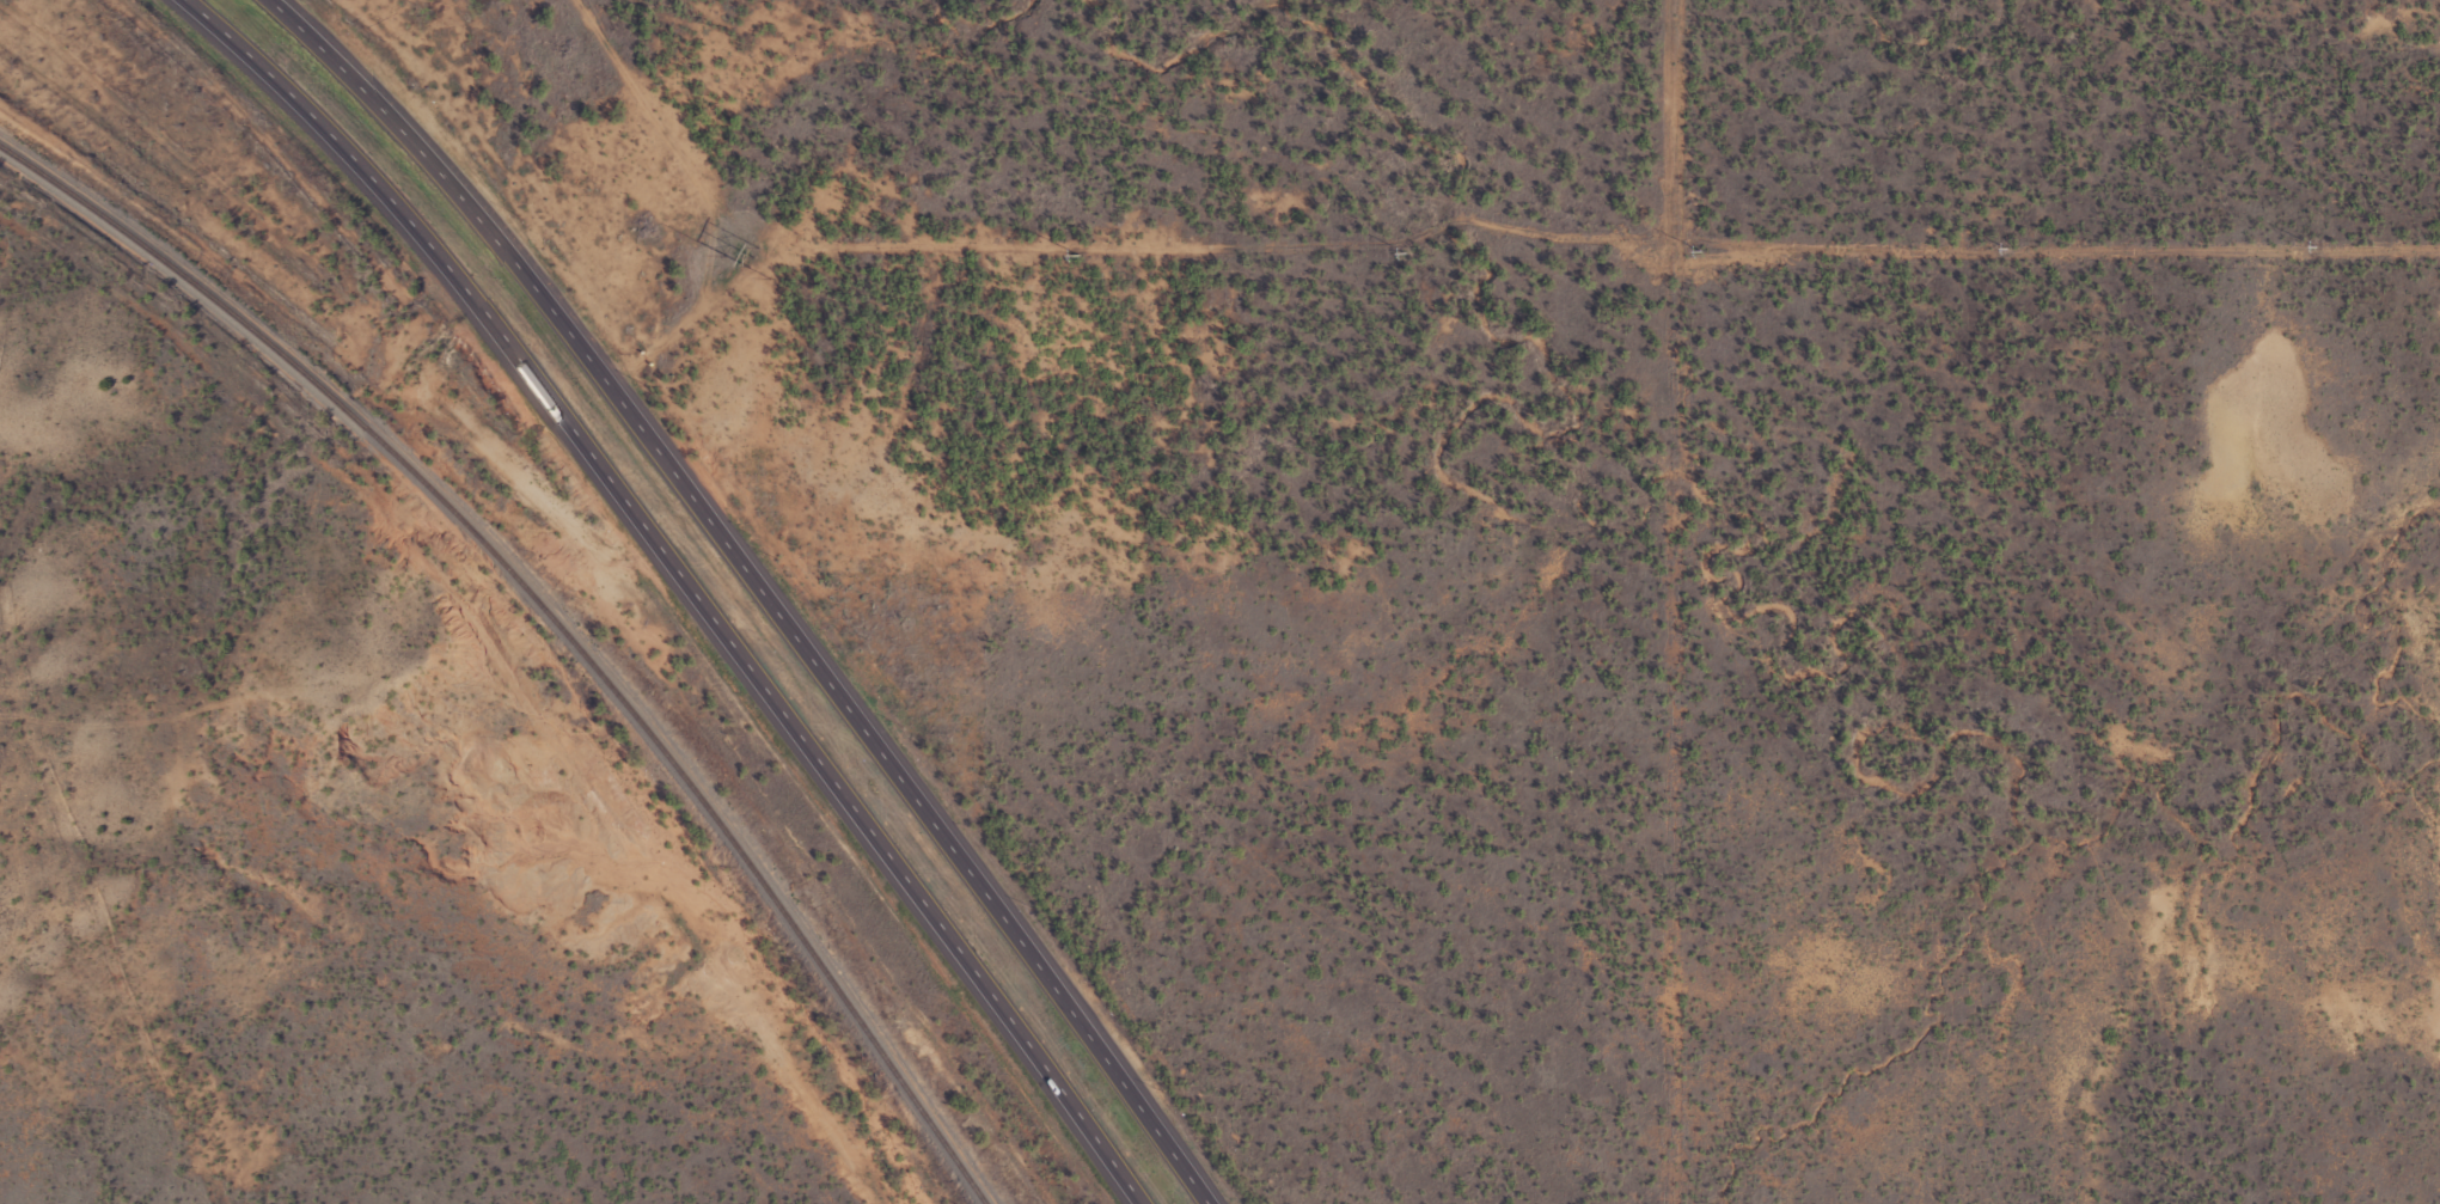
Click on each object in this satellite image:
power tower: (754, 257)
road: (684, 582)
road: (764, 588)
railway: (554, 618)

